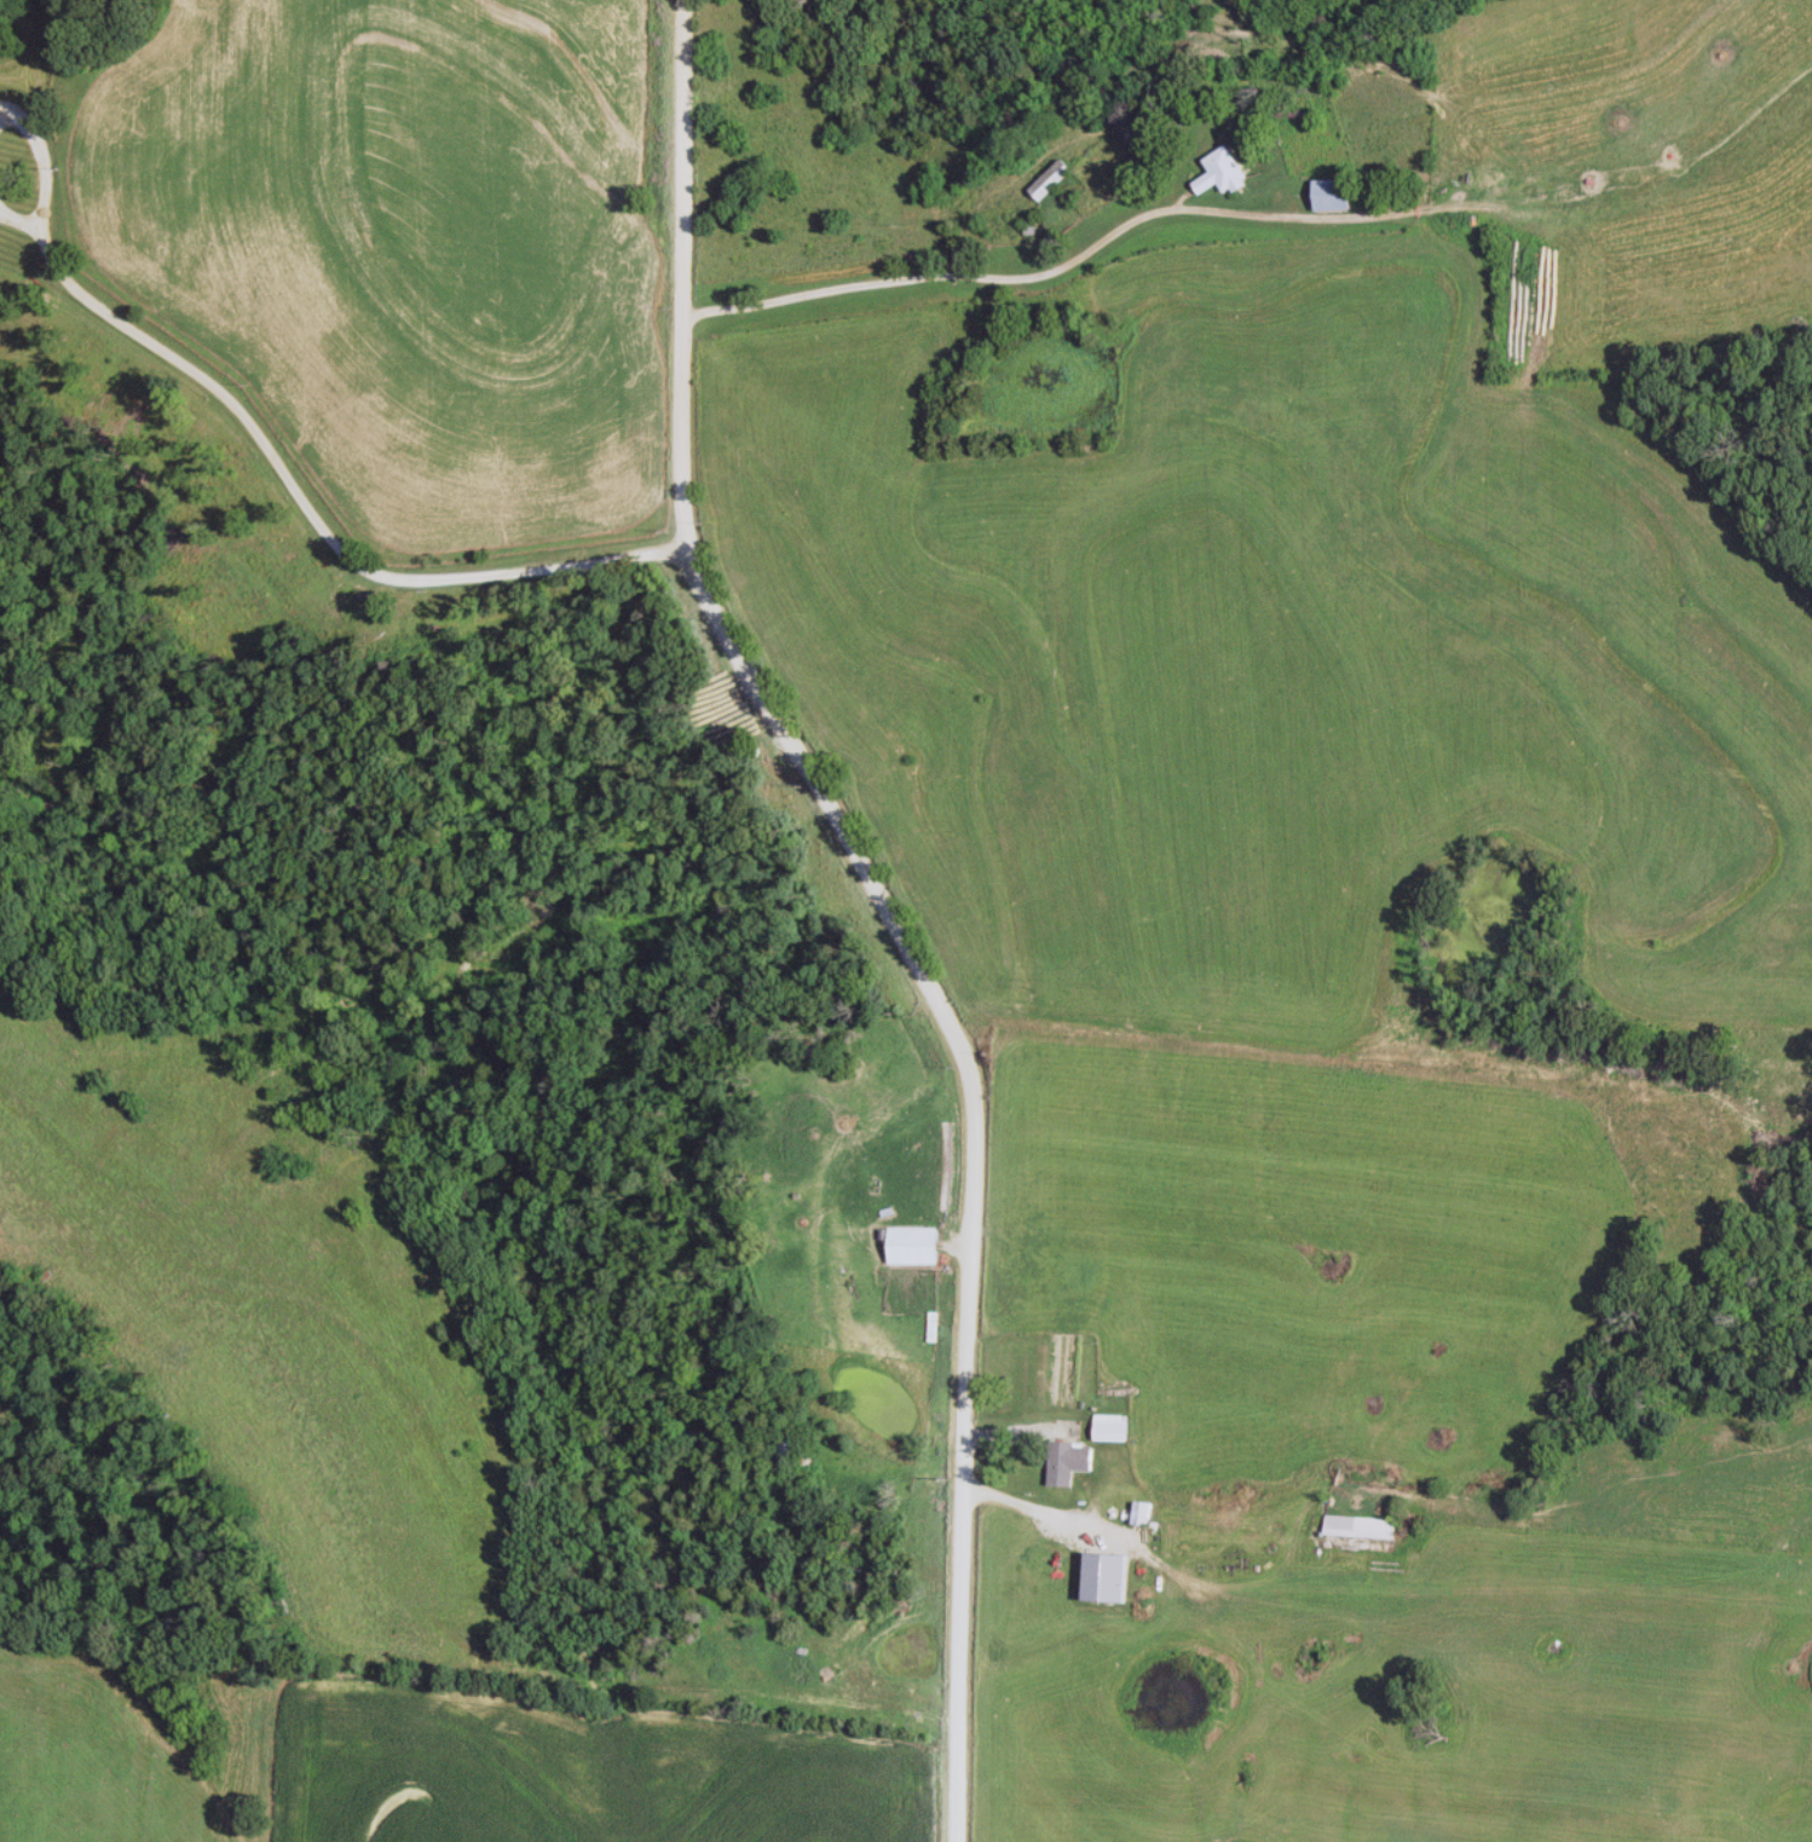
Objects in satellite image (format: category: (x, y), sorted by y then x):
building: (1222, 174)
building: (1050, 180)
building: (1334, 196)
building: (1461, 223)
road: (1052, 270)
road: (269, 455)
road: (881, 905)
building: (914, 1247)
building: (1113, 1428)
building: (792, 1443)
building: (1071, 1462)
building: (1136, 1515)
building: (1355, 1528)
building: (1247, 1540)

